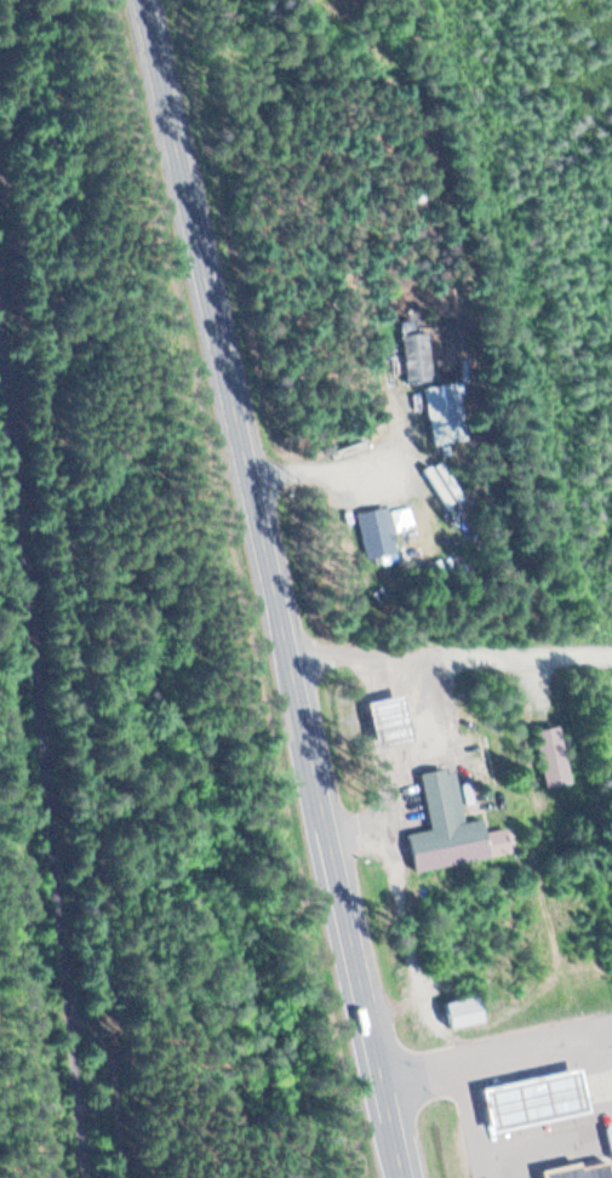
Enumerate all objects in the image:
building: (376, 531)
road: (278, 589)
road: (452, 657)
building: (393, 722)
building: (554, 759)
railway: (40, 764)
building: (453, 829)
building: (469, 1014)
road: (475, 1079)
building: (537, 1099)
building: (572, 1170)
gas station: (572, 1170)

